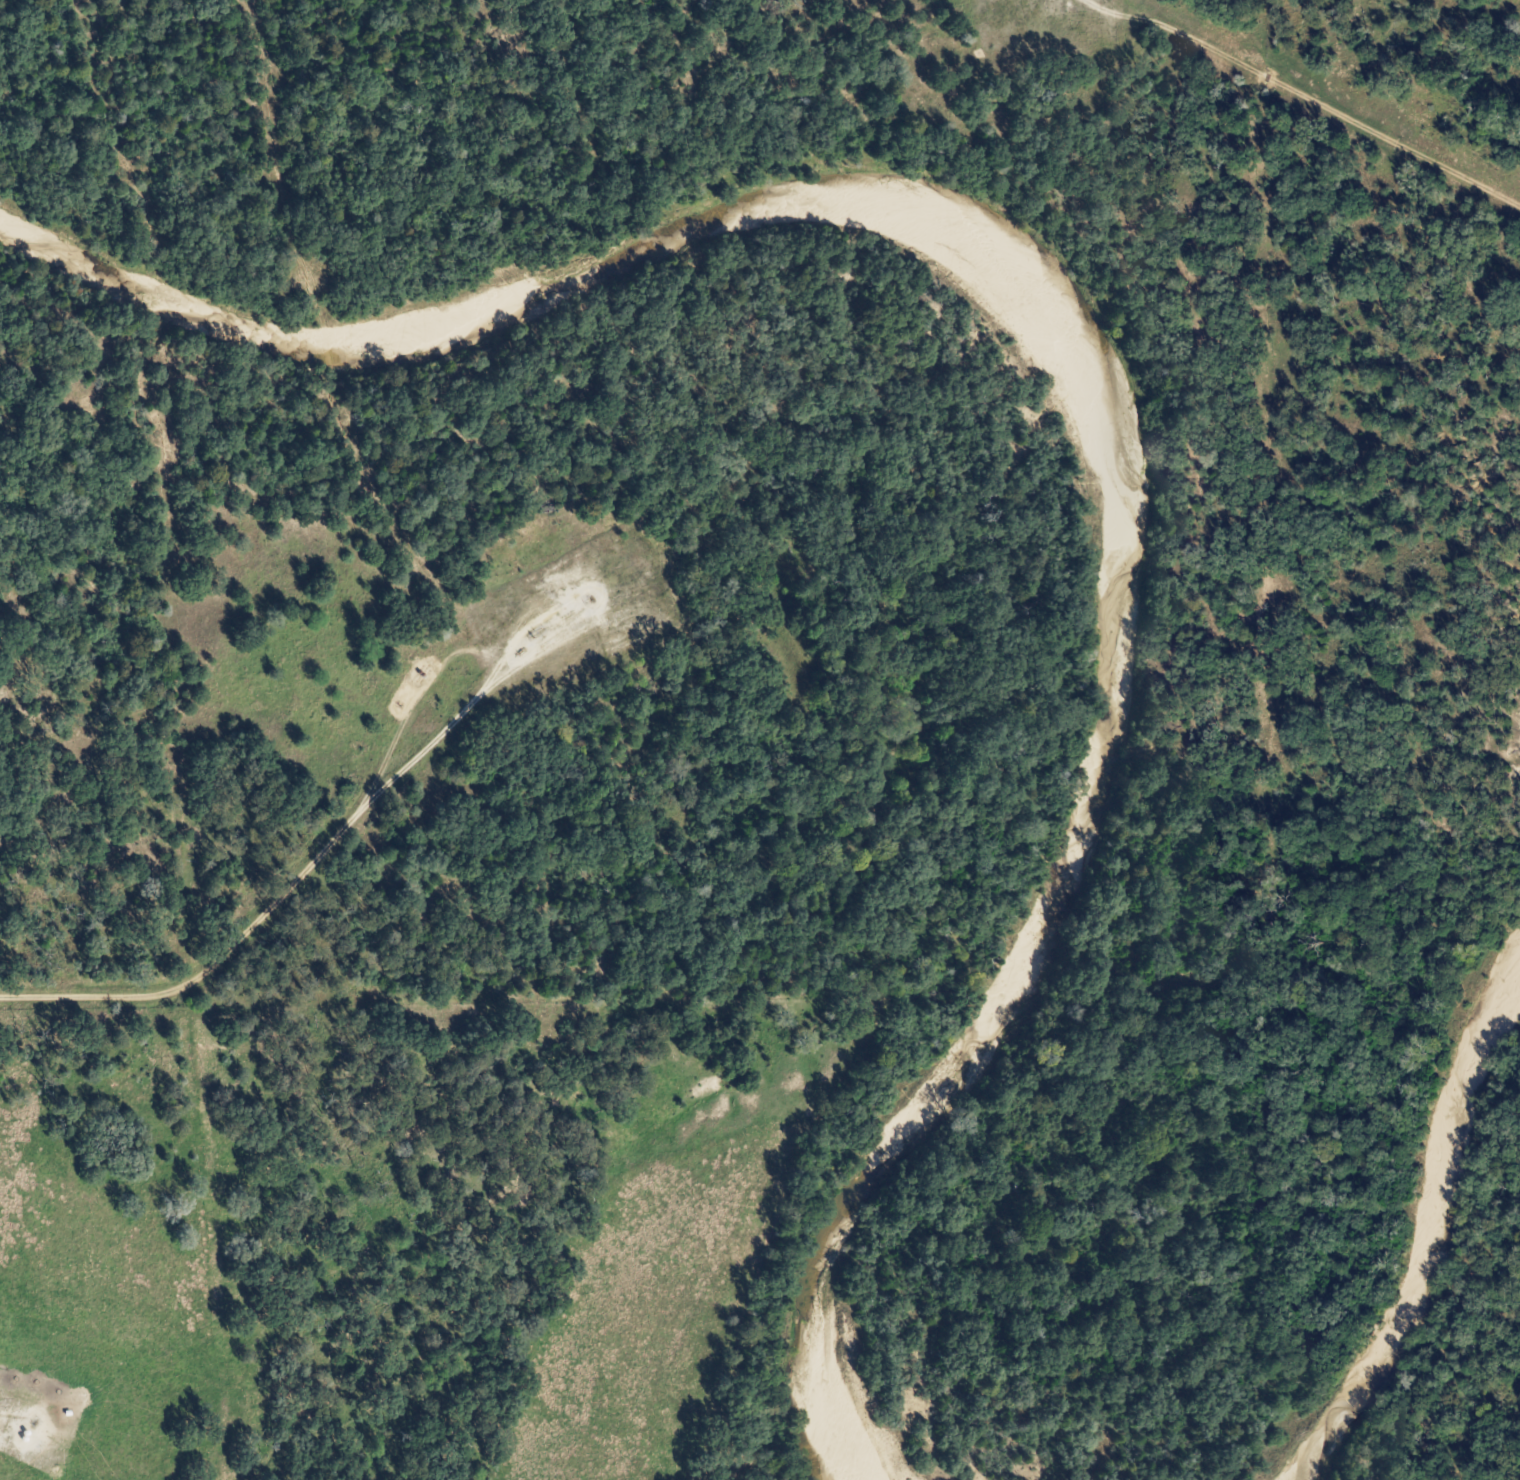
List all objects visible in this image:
road: (1313, 104)
road: (446, 664)
road: (218, 964)

